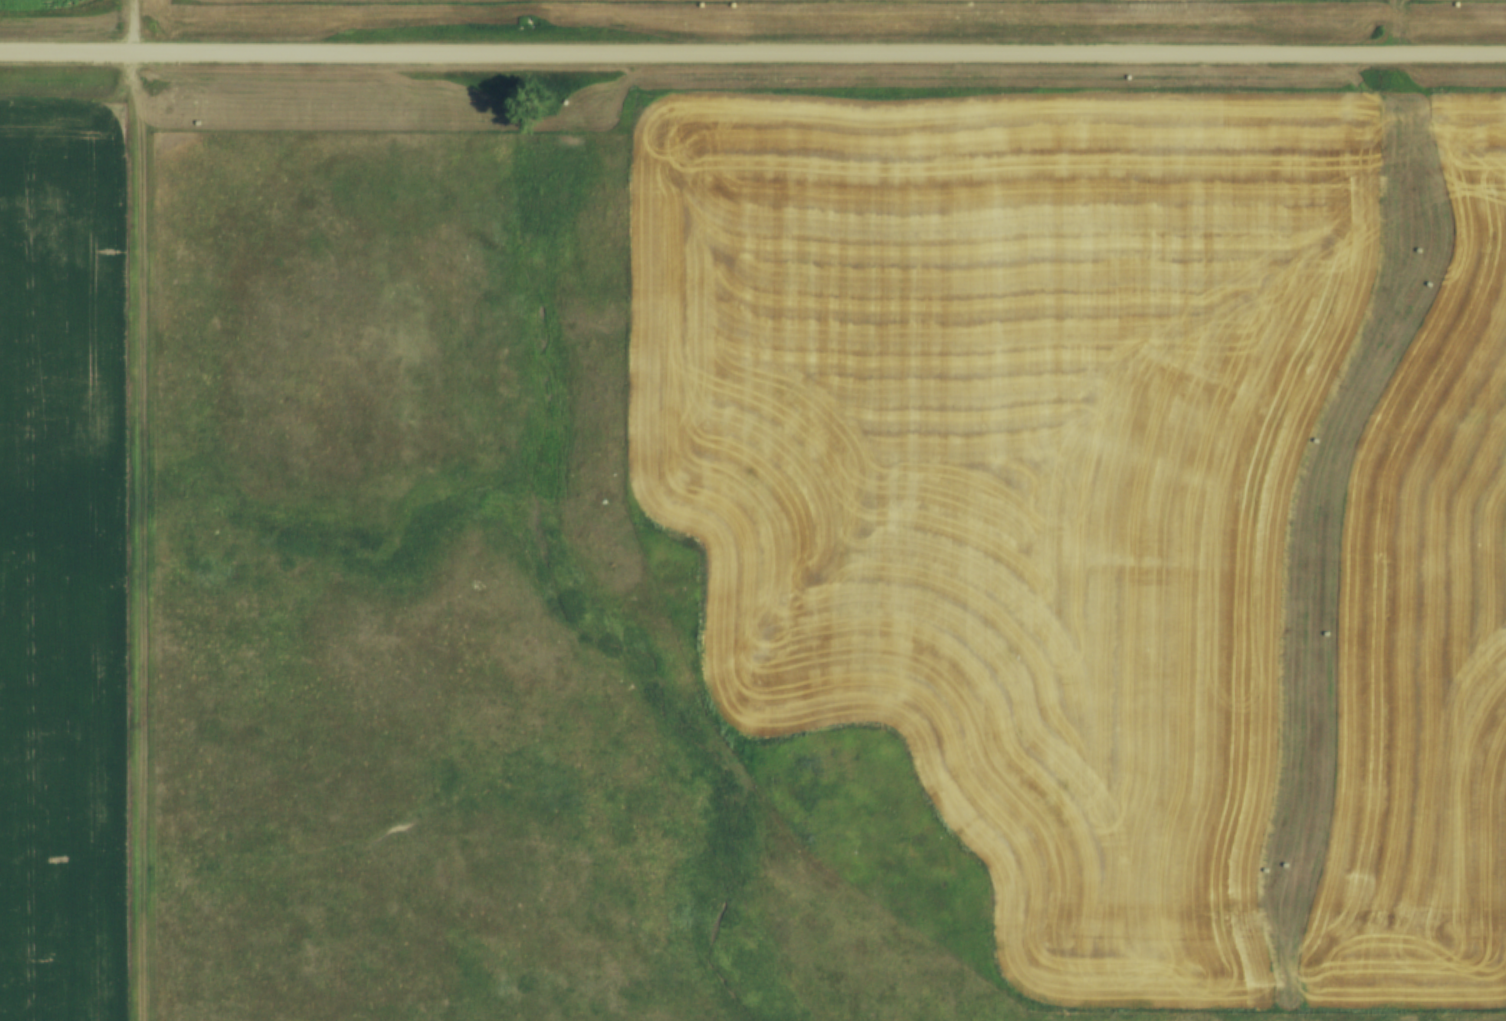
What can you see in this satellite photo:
crop: (54, 0)
road: (136, 25)
road: (752, 49)
crop: (57, 555)

